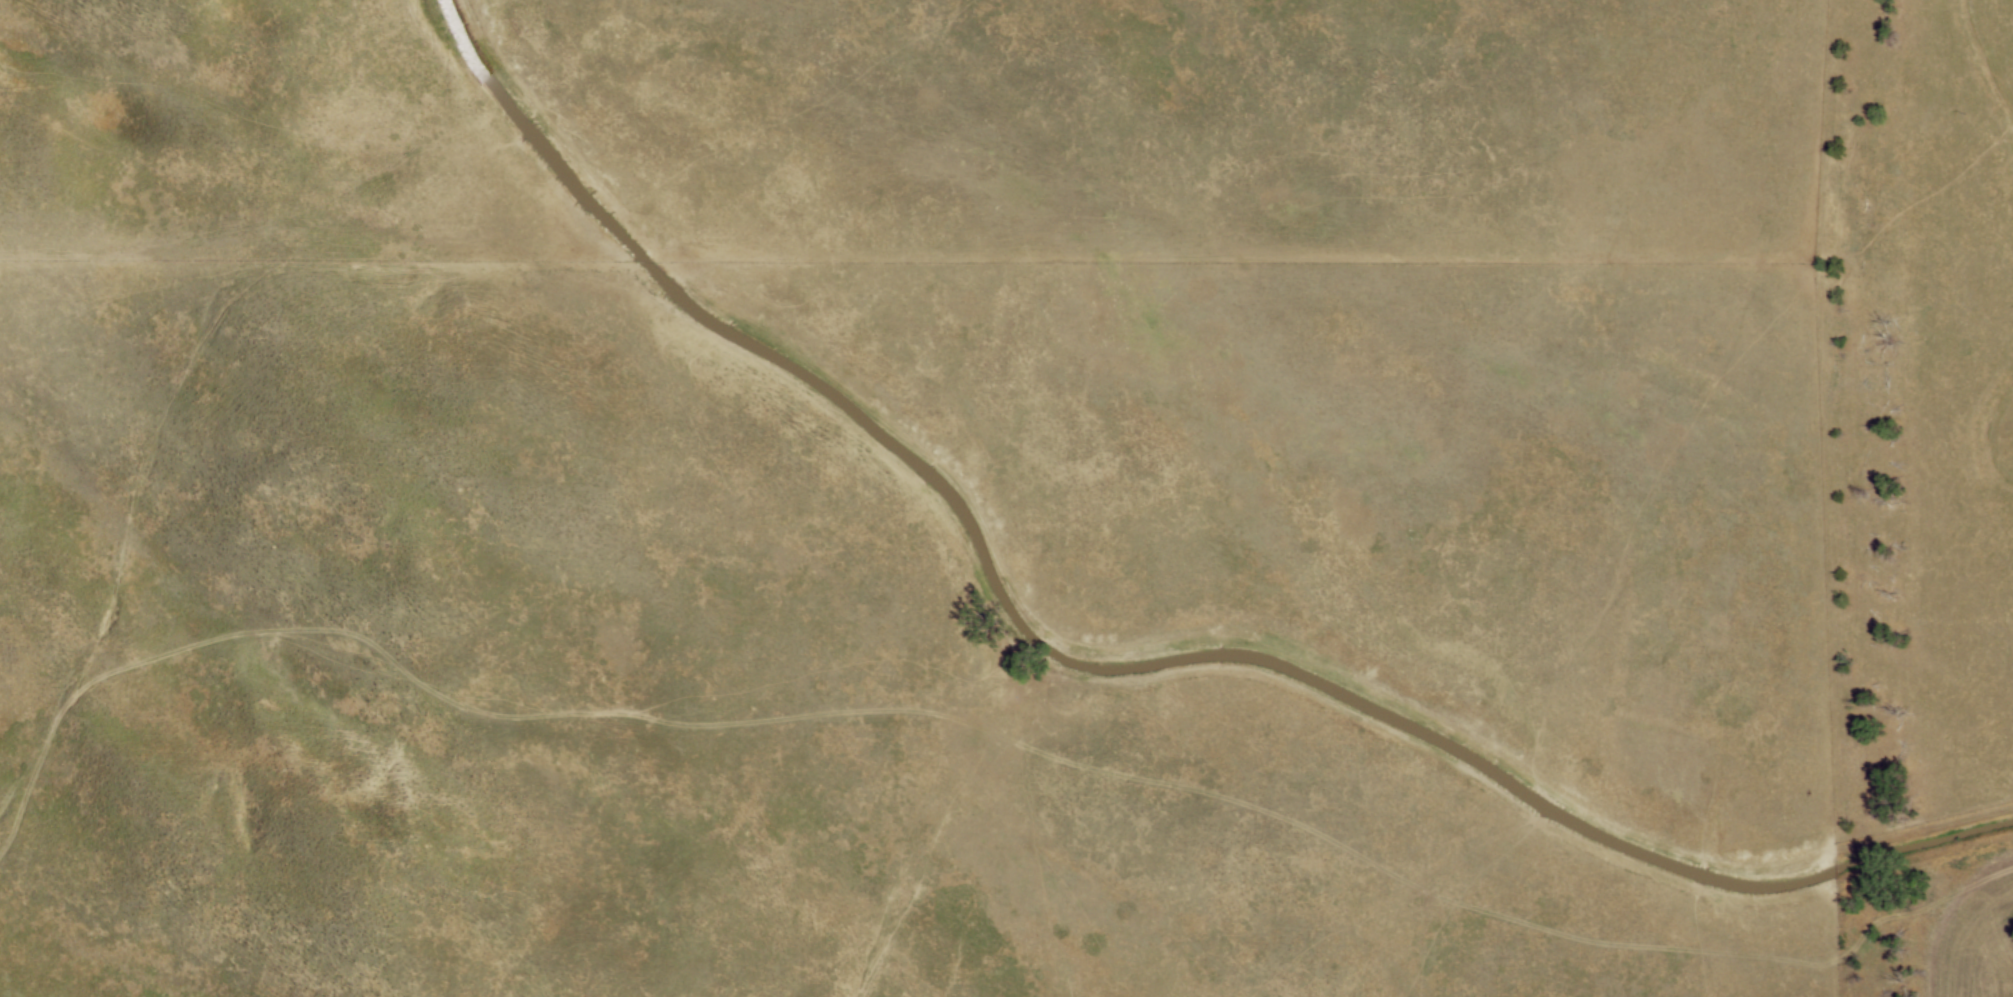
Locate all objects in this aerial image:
crop: (1972, 948)

